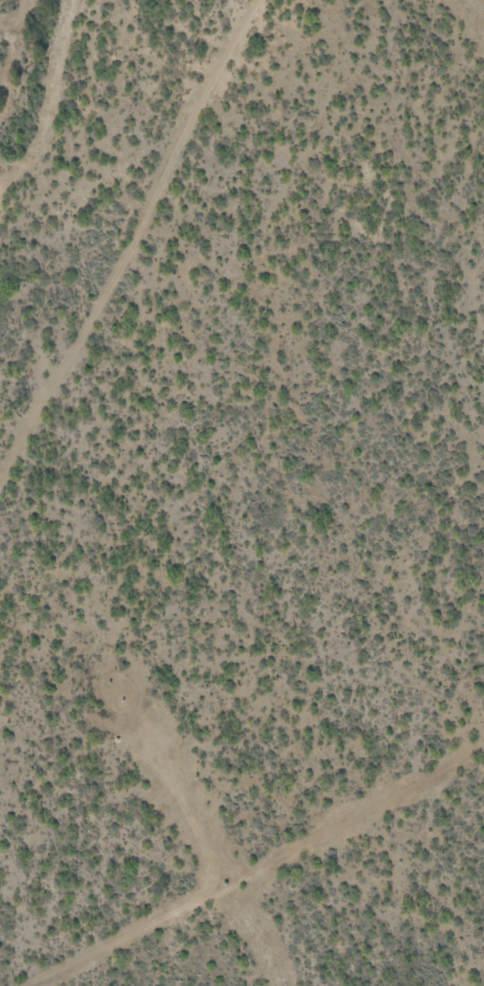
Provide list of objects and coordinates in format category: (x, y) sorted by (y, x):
road: (133, 244)

